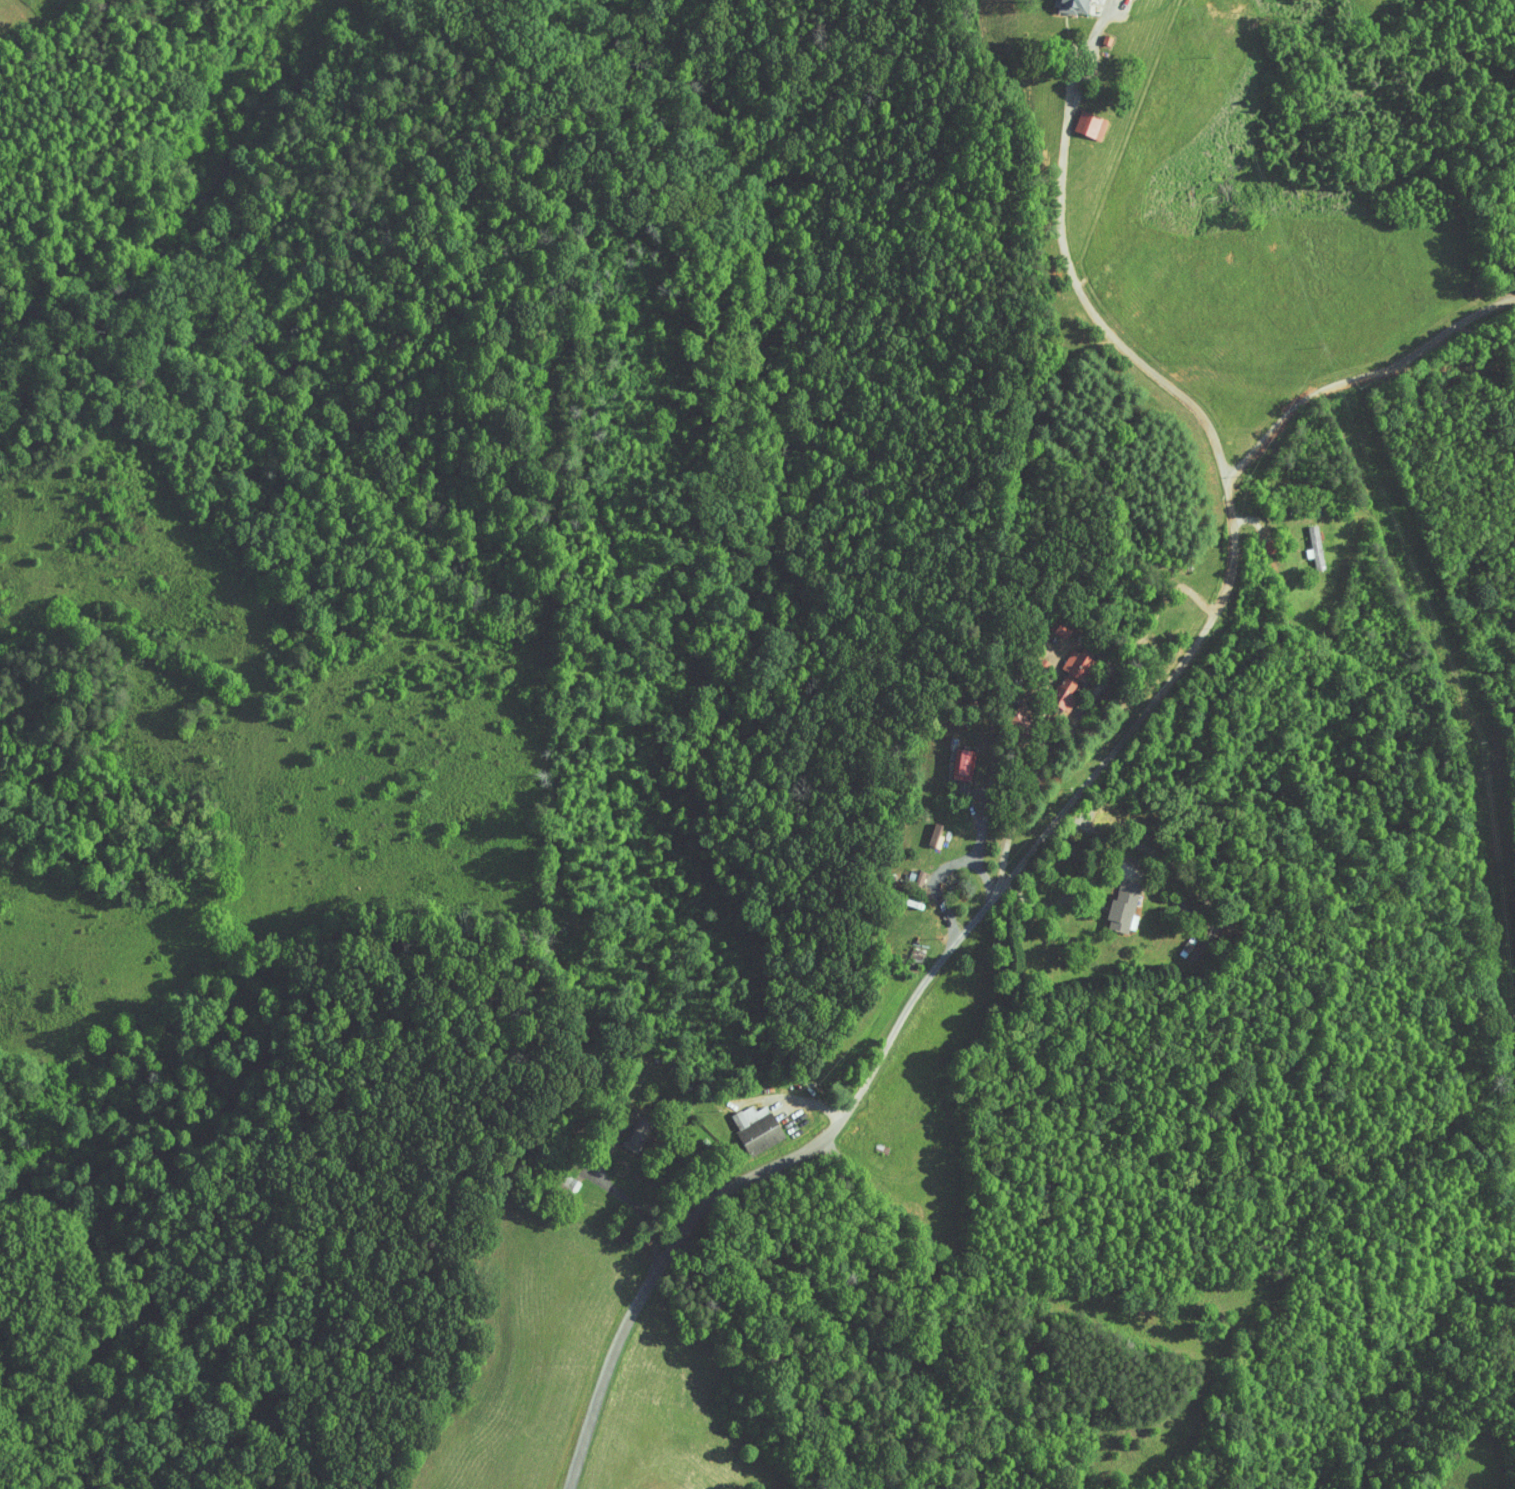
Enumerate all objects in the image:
building: (1059, 3)
building: (1076, 119)
road: (1354, 385)
building: (1302, 542)
building: (1054, 671)
building: (950, 759)
road: (1087, 783)
road: (1002, 844)
building: (1107, 901)
building: (742, 1123)
building: (621, 1129)
building: (555, 1178)
road: (642, 1213)

